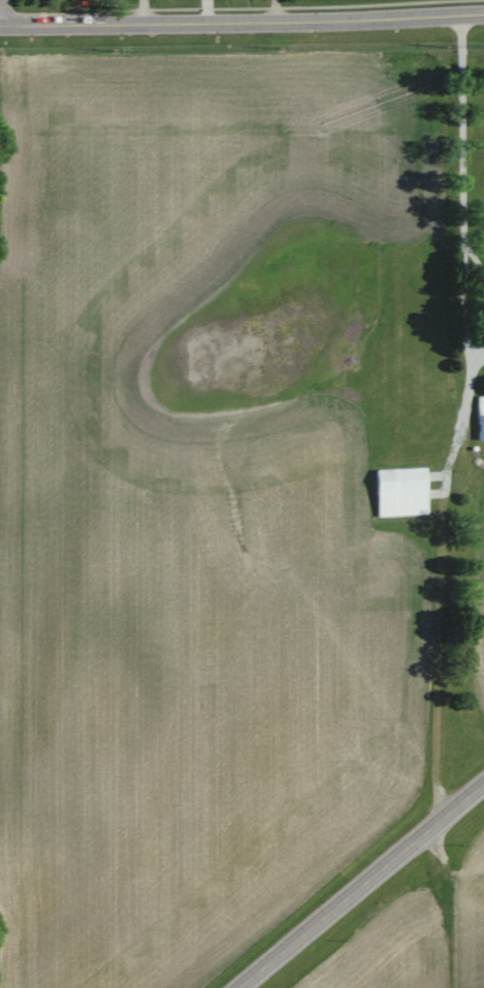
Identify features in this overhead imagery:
road: (274, 11)
road: (242, 23)
building: (480, 416)
road: (461, 418)
building: (400, 491)
road: (361, 885)

